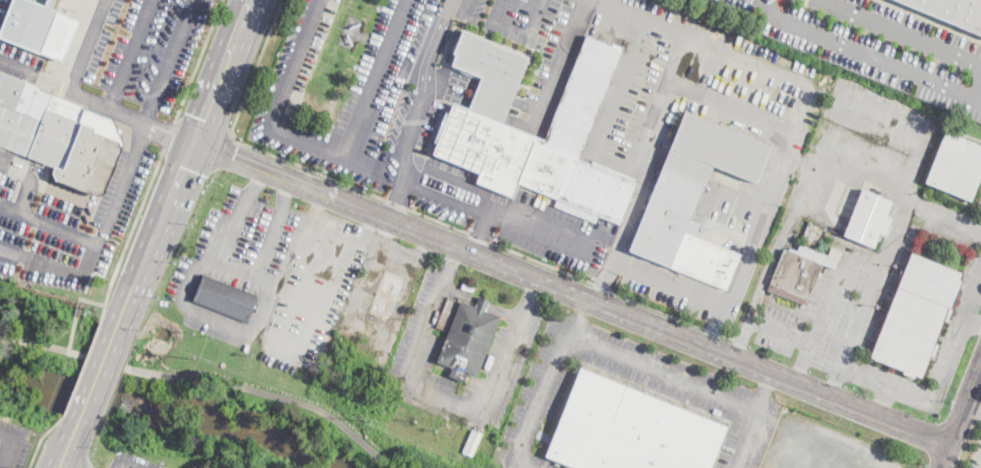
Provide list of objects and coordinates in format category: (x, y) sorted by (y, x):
road: (94, 3)
parking lot: (1, 4)
building: (950, 12)
building: (38, 28)
road: (350, 31)
road: (897, 33)
road: (516, 35)
road: (368, 38)
road: (703, 42)
parking lot: (875, 44)
road: (87, 46)
parking lot: (128, 47)
road: (131, 54)
road: (866, 55)
road: (197, 60)
road: (294, 63)
road: (562, 64)
road: (255, 68)
road: (35, 77)
road: (373, 78)
road: (618, 86)
road: (422, 88)
road: (487, 88)
road: (485, 93)
road: (658, 102)
road: (480, 106)
building: (20, 113)
road: (880, 116)
road: (132, 117)
parking lot: (876, 126)
building: (478, 128)
road: (202, 129)
road: (169, 133)
road: (140, 137)
road: (306, 142)
traffic signals: (194, 143)
building: (77, 146)
road: (225, 152)
road: (190, 158)
road: (185, 161)
road: (843, 161)
parking lot: (385, 164)
road: (619, 164)
building: (956, 166)
road: (30, 180)
road: (462, 181)
road: (258, 182)
road: (285, 194)
road: (770, 196)
building: (694, 199)
road: (396, 201)
parking lot: (978, 203)
road: (321, 207)
road: (945, 218)
building: (868, 219)
road: (485, 223)
road: (48, 224)
road: (827, 224)
parking lot: (67, 226)
road: (365, 227)
road: (130, 230)
road: (234, 231)
road: (560, 237)
road: (484, 238)
road: (621, 238)
road: (269, 246)
road: (889, 253)
road: (301, 259)
road: (43, 261)
road: (203, 264)
road: (449, 266)
building: (800, 272)
road: (763, 279)
building: (927, 289)
road: (572, 293)
building: (225, 299)
road: (530, 299)
road: (91, 300)
road: (262, 303)
road: (577, 309)
road: (824, 309)
parking lot: (870, 317)
road: (975, 322)
road: (780, 328)
road: (71, 333)
road: (298, 336)
building: (467, 339)
building: (906, 341)
road: (33, 342)
park: (39, 346)
parking lot: (415, 353)
road: (81, 366)
road: (97, 374)
road: (799, 374)
road: (692, 382)
road: (835, 383)
road: (239, 384)
road: (940, 390)
road: (765, 391)
road: (545, 394)
road: (442, 399)
road: (882, 401)
parking lot: (718, 402)
road: (973, 410)
road: (961, 419)
park: (228, 423)
building: (631, 428)
road: (76, 430)
road: (40, 438)
parking lot: (746, 446)
road: (67, 451)
road: (82, 452)
parking lot: (978, 460)
parking lot: (132, 461)
road: (524, 465)
parking lot: (545, 467)

